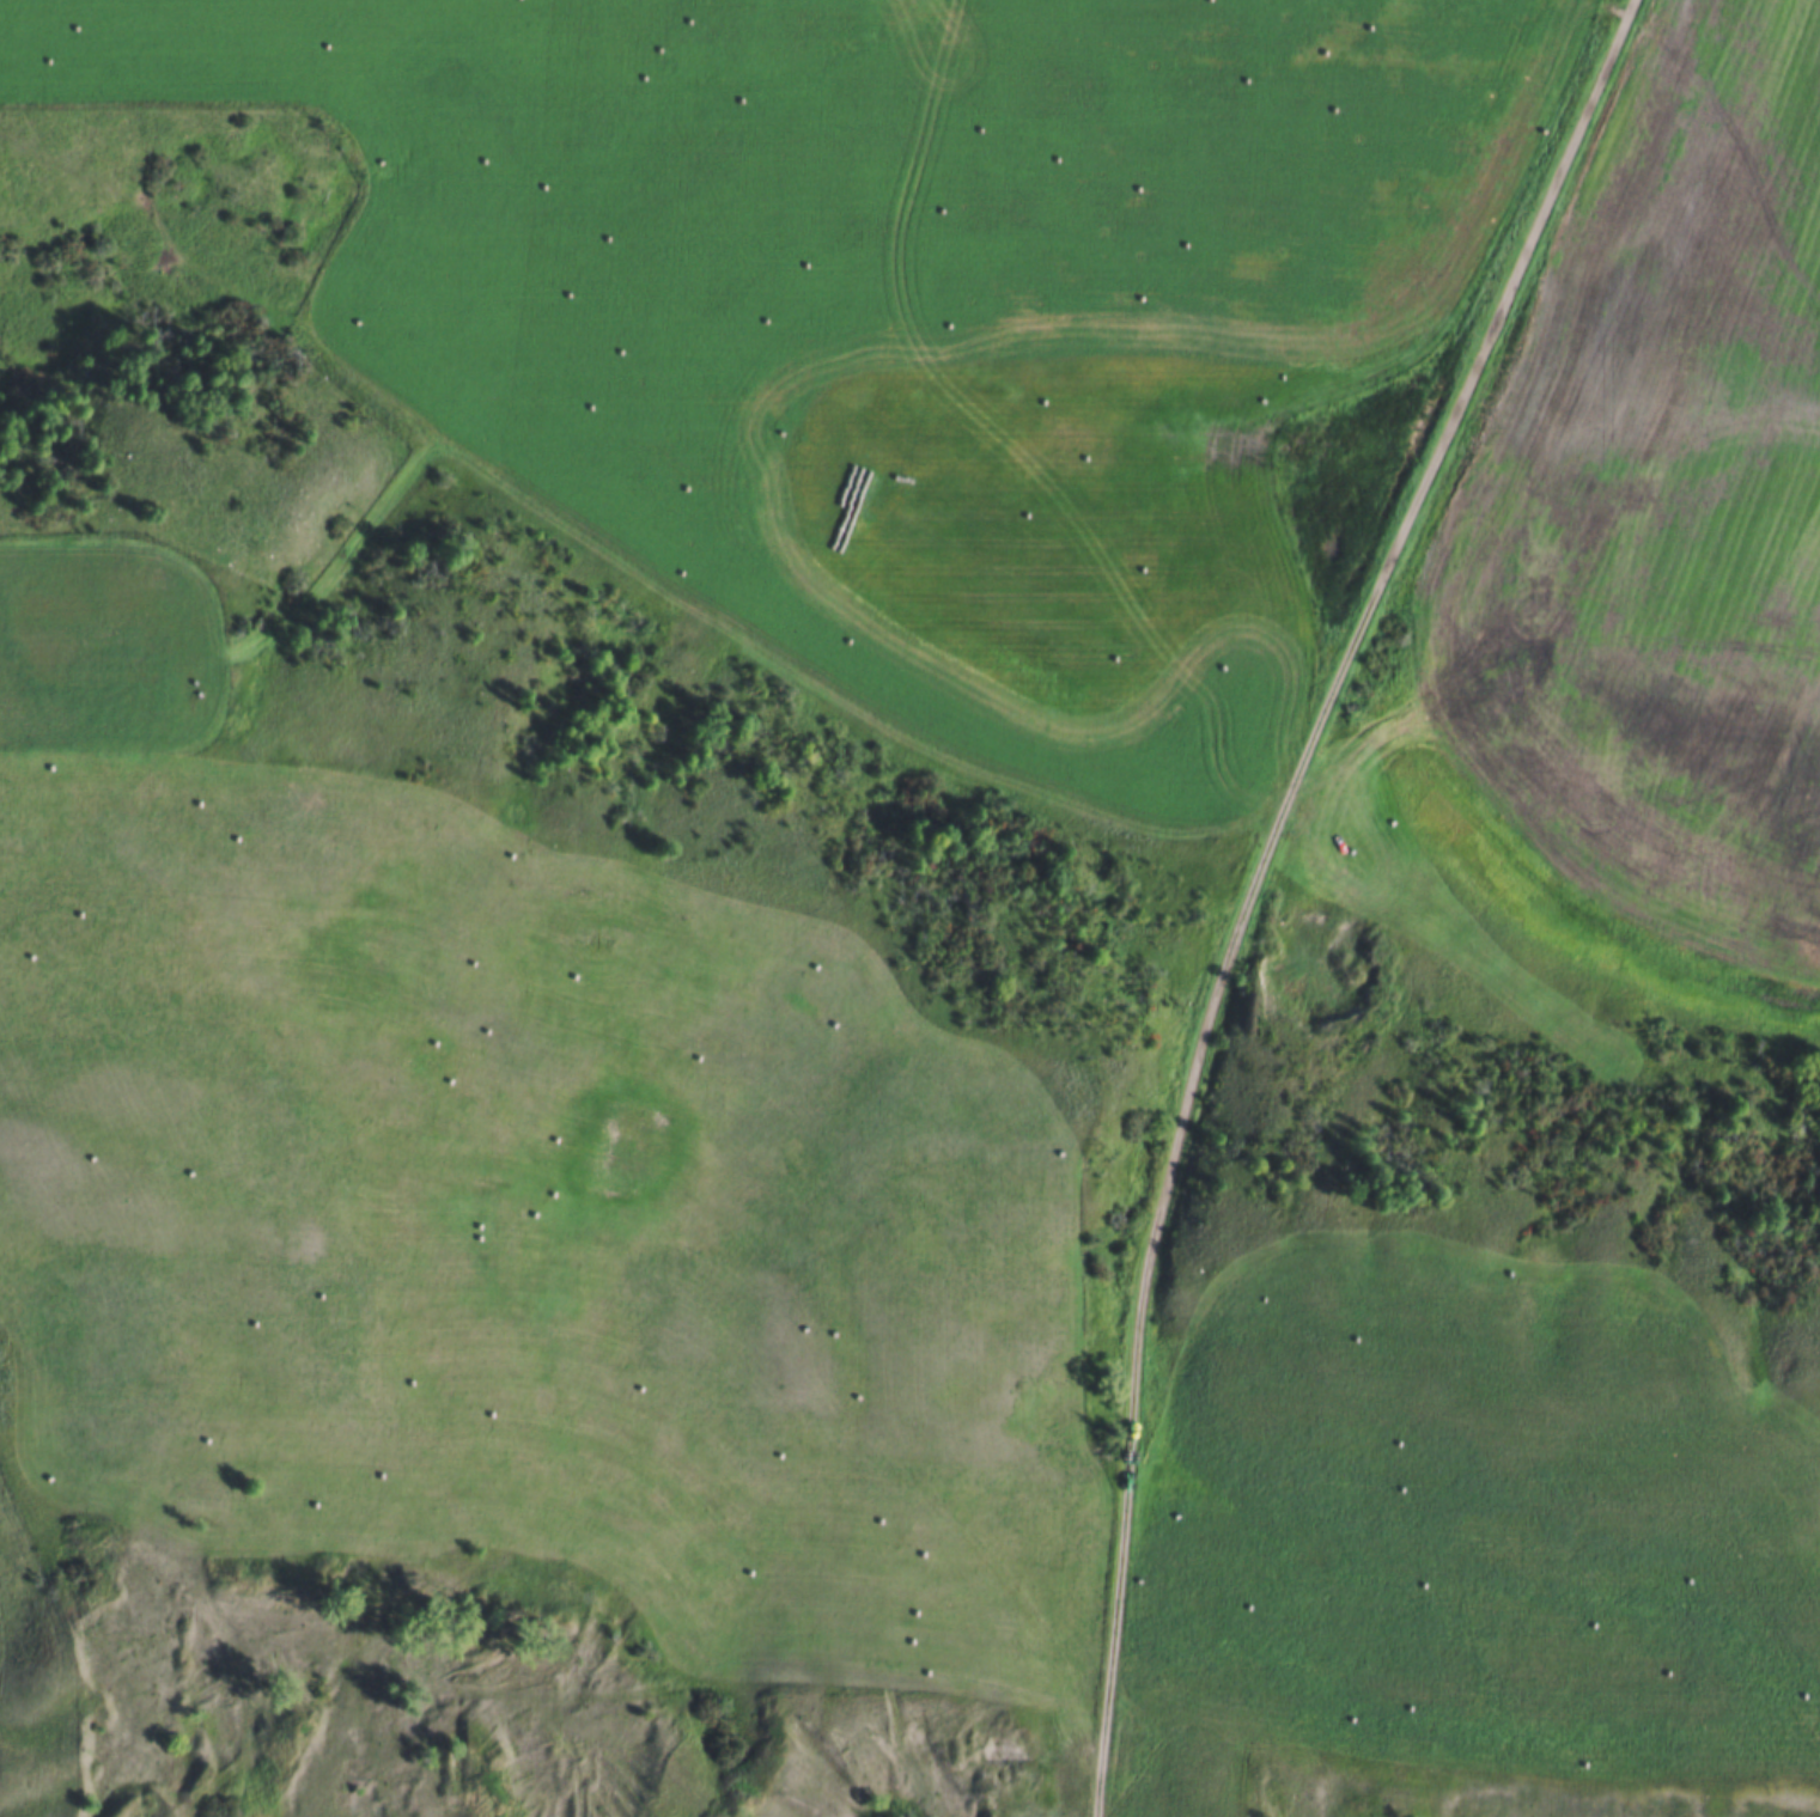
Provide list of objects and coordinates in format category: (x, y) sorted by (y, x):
road: (1253, 878)
quarry: (488, 1699)

